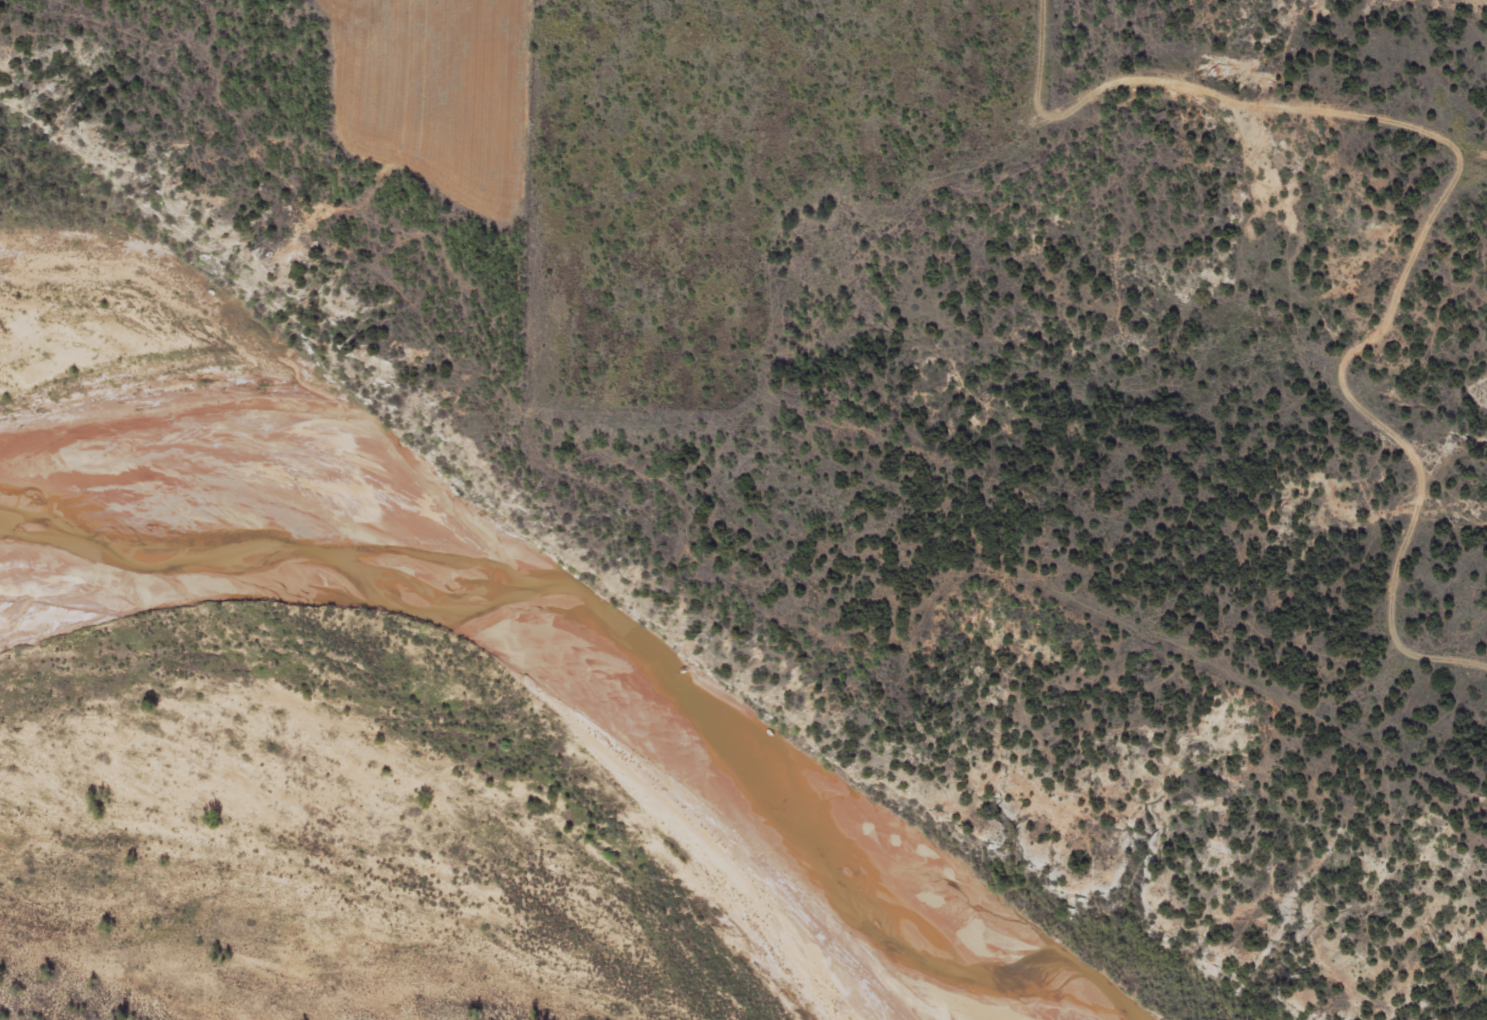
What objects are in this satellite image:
road: (1275, 105)
river: (530, 567)

